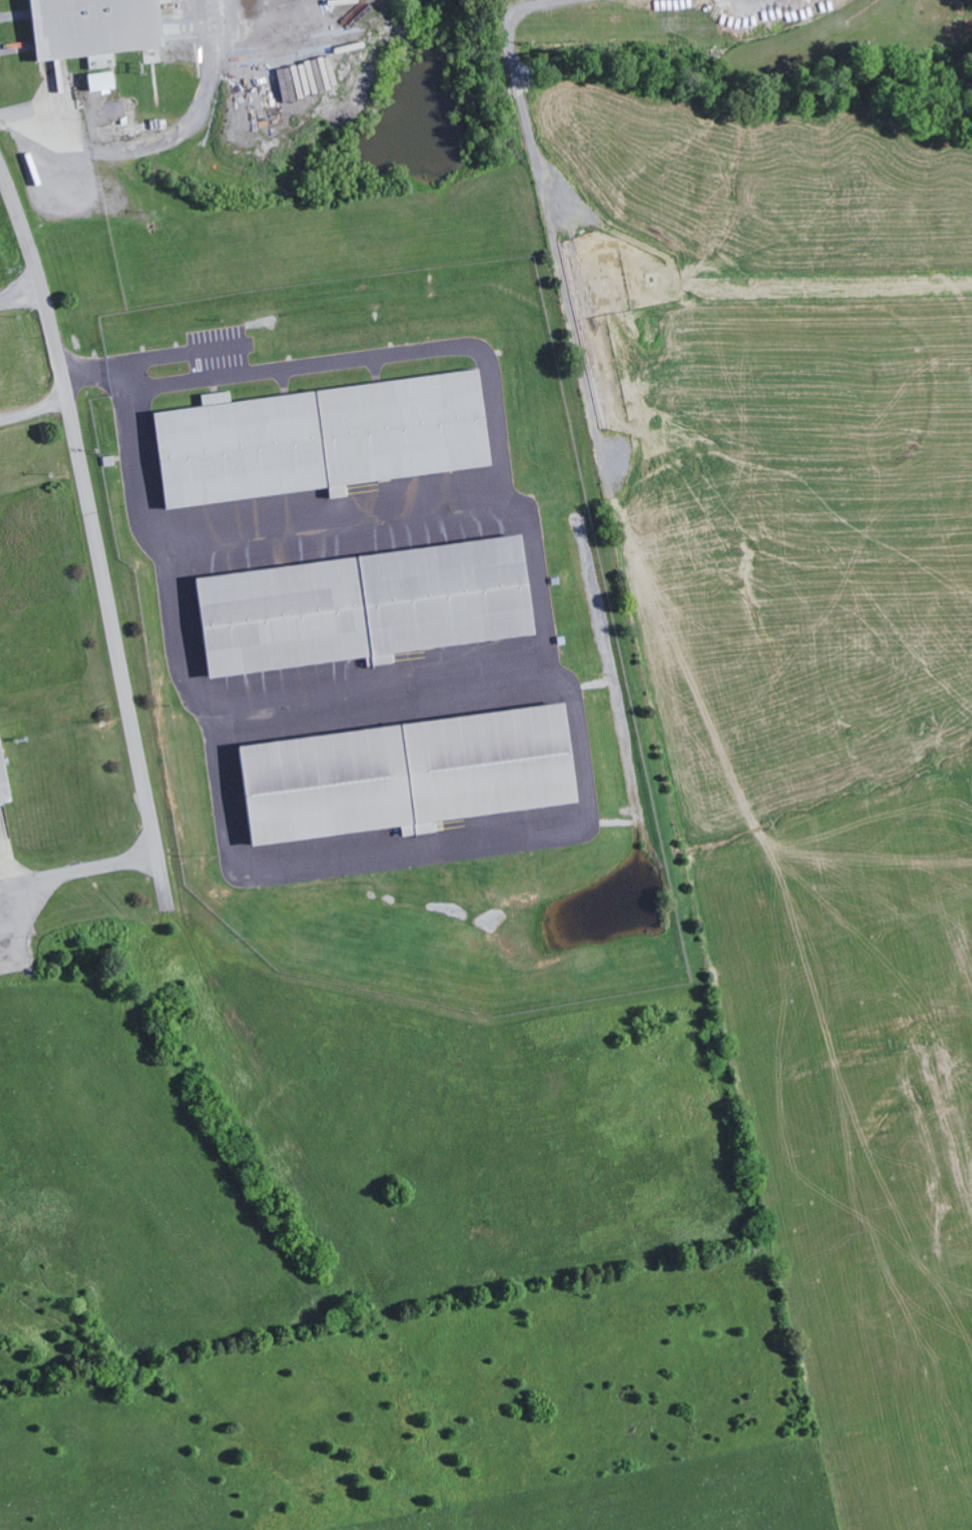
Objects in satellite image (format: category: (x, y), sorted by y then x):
building: (96, 29)
building: (104, 83)
building: (325, 440)
road: (93, 534)
building: (367, 608)
building: (4, 775)
building: (410, 778)
road: (78, 868)

